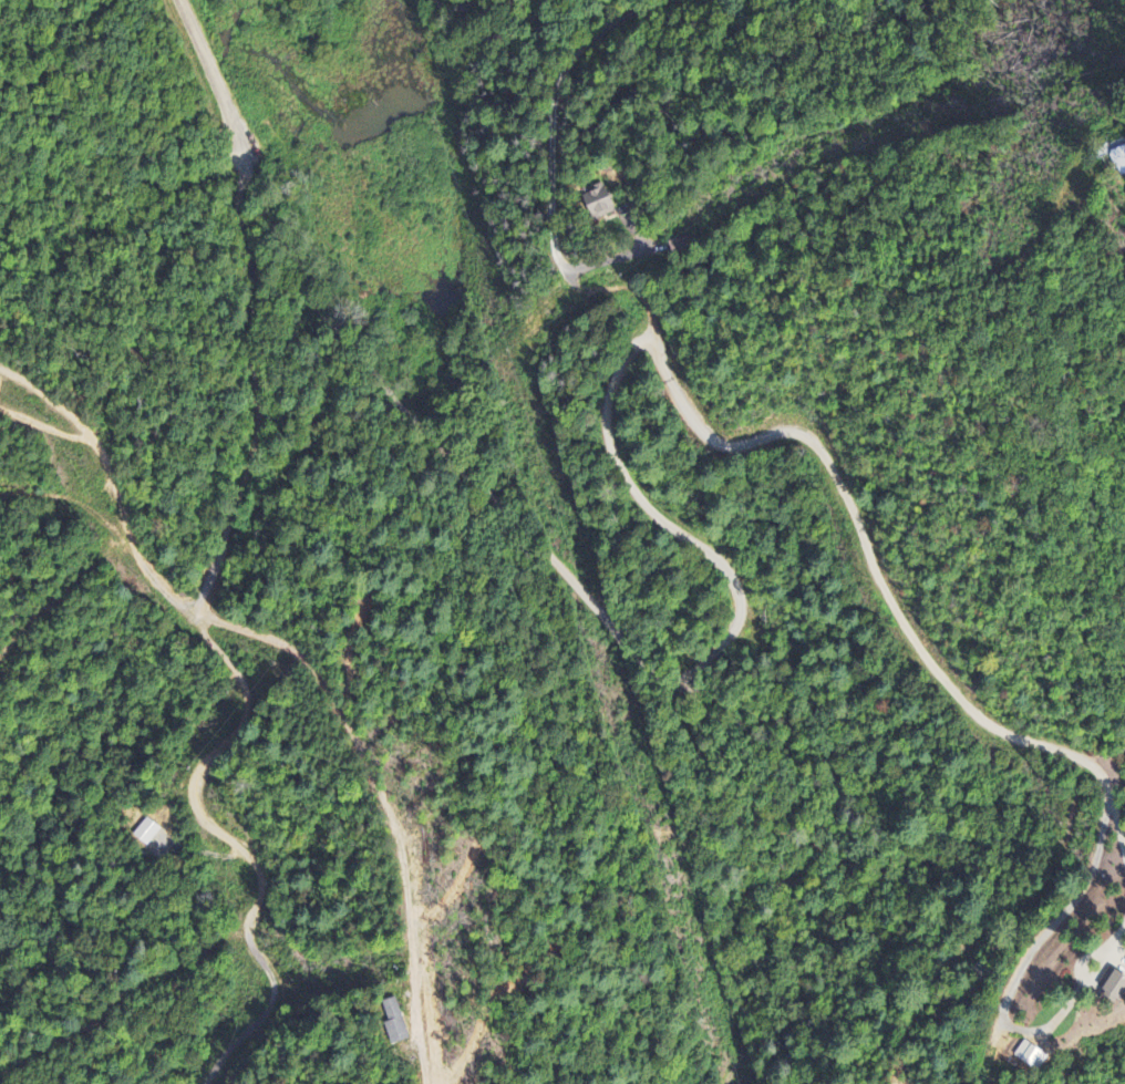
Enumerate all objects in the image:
road: (460, 6)
road: (213, 75)
building: (598, 204)
road: (444, 462)
road: (638, 496)
road: (722, 646)
road: (242, 719)
building: (1116, 990)
building: (394, 1024)

